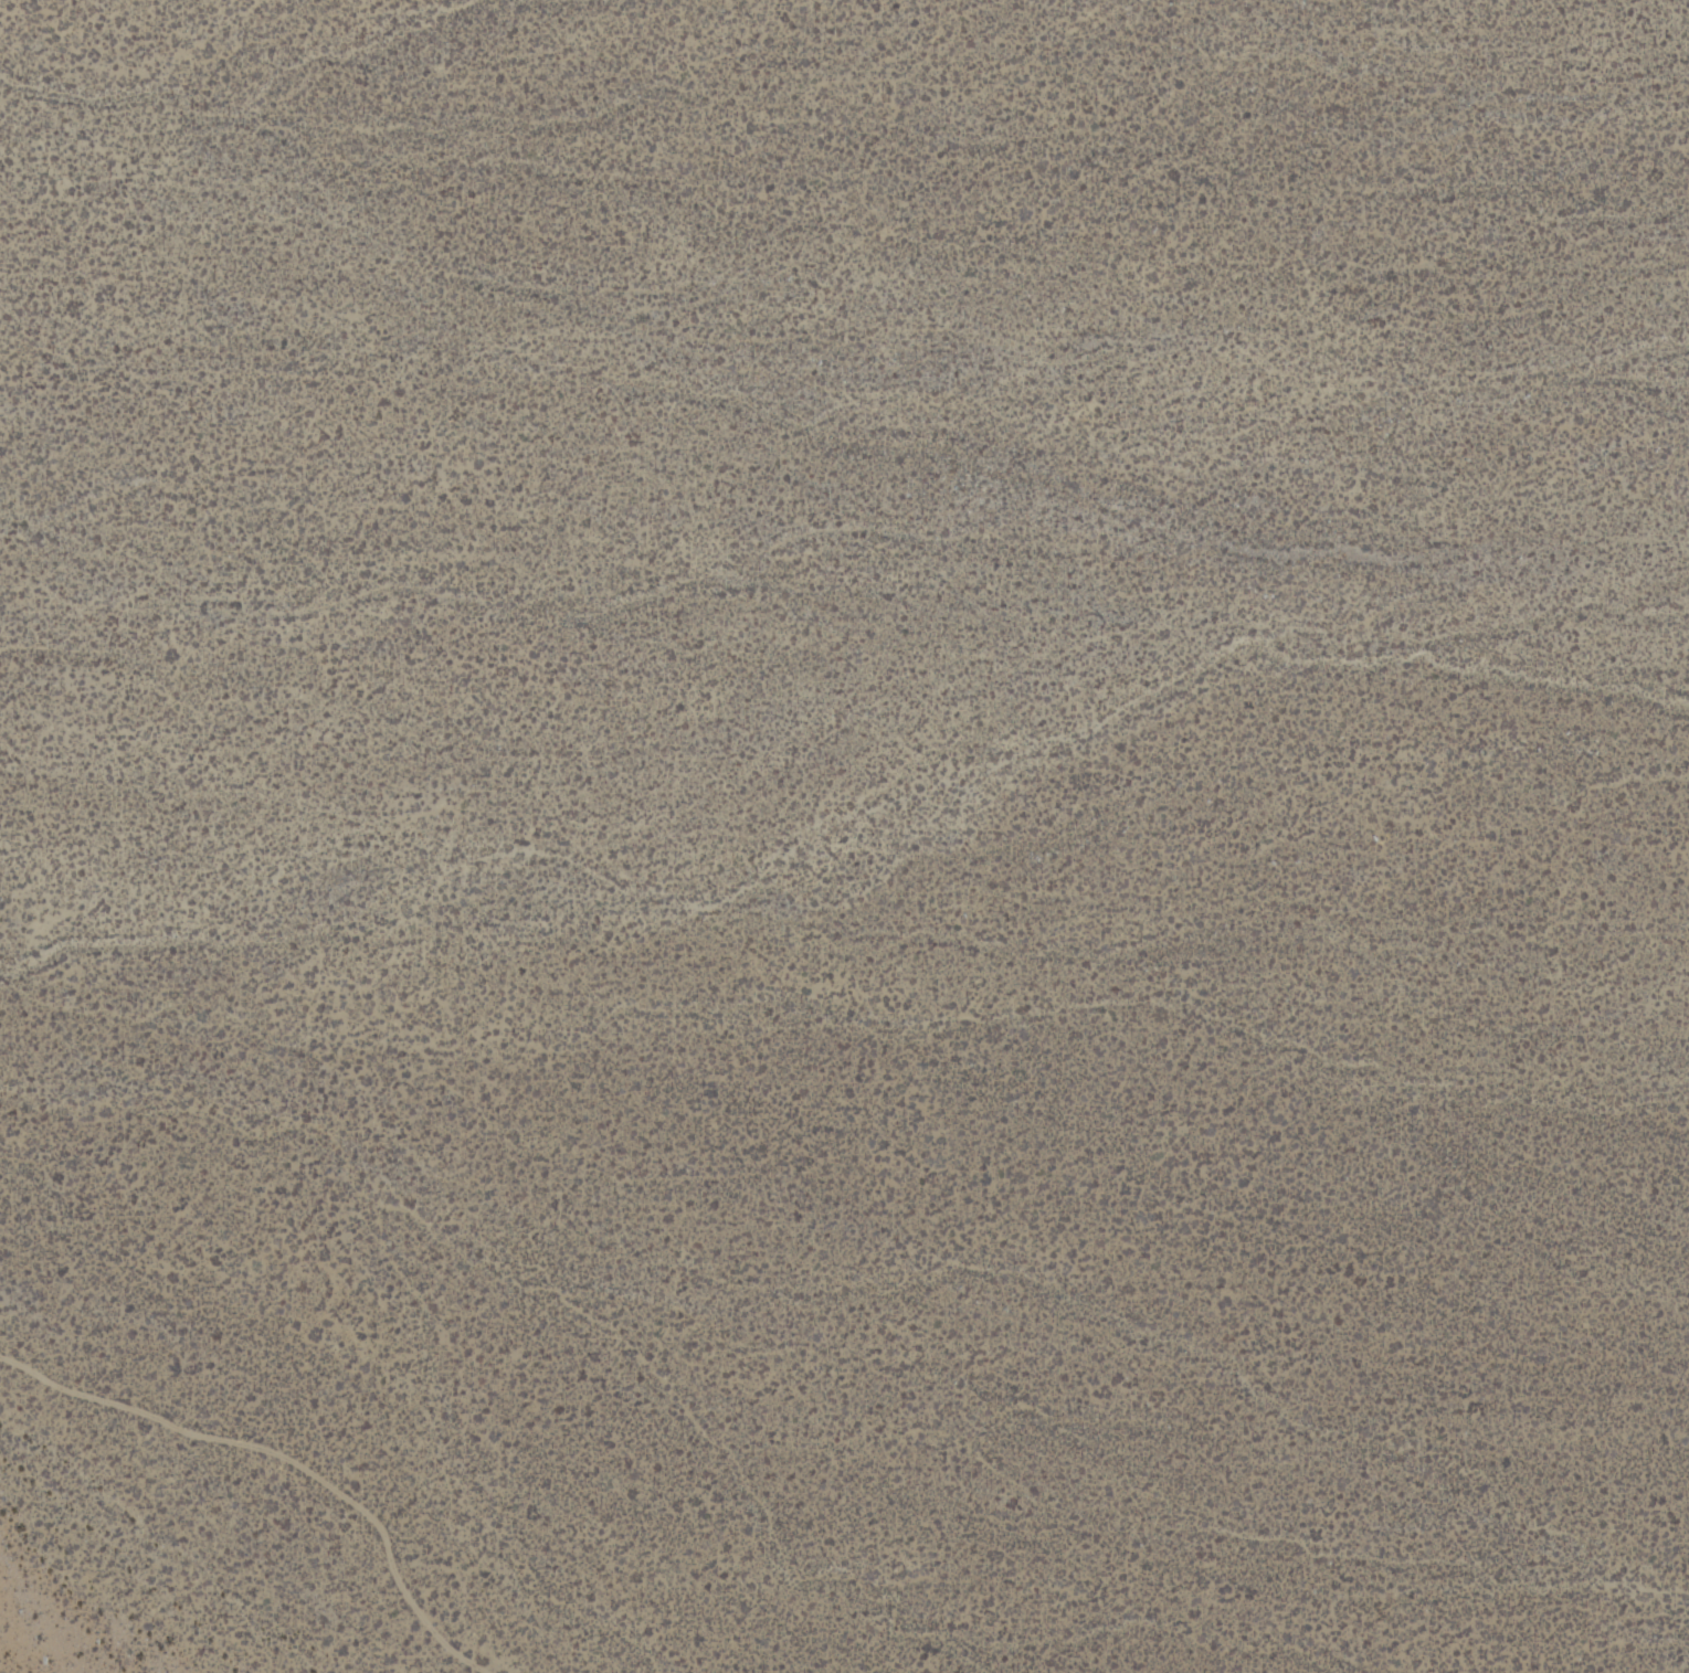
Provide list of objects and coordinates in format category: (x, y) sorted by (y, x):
road: (278, 1463)

